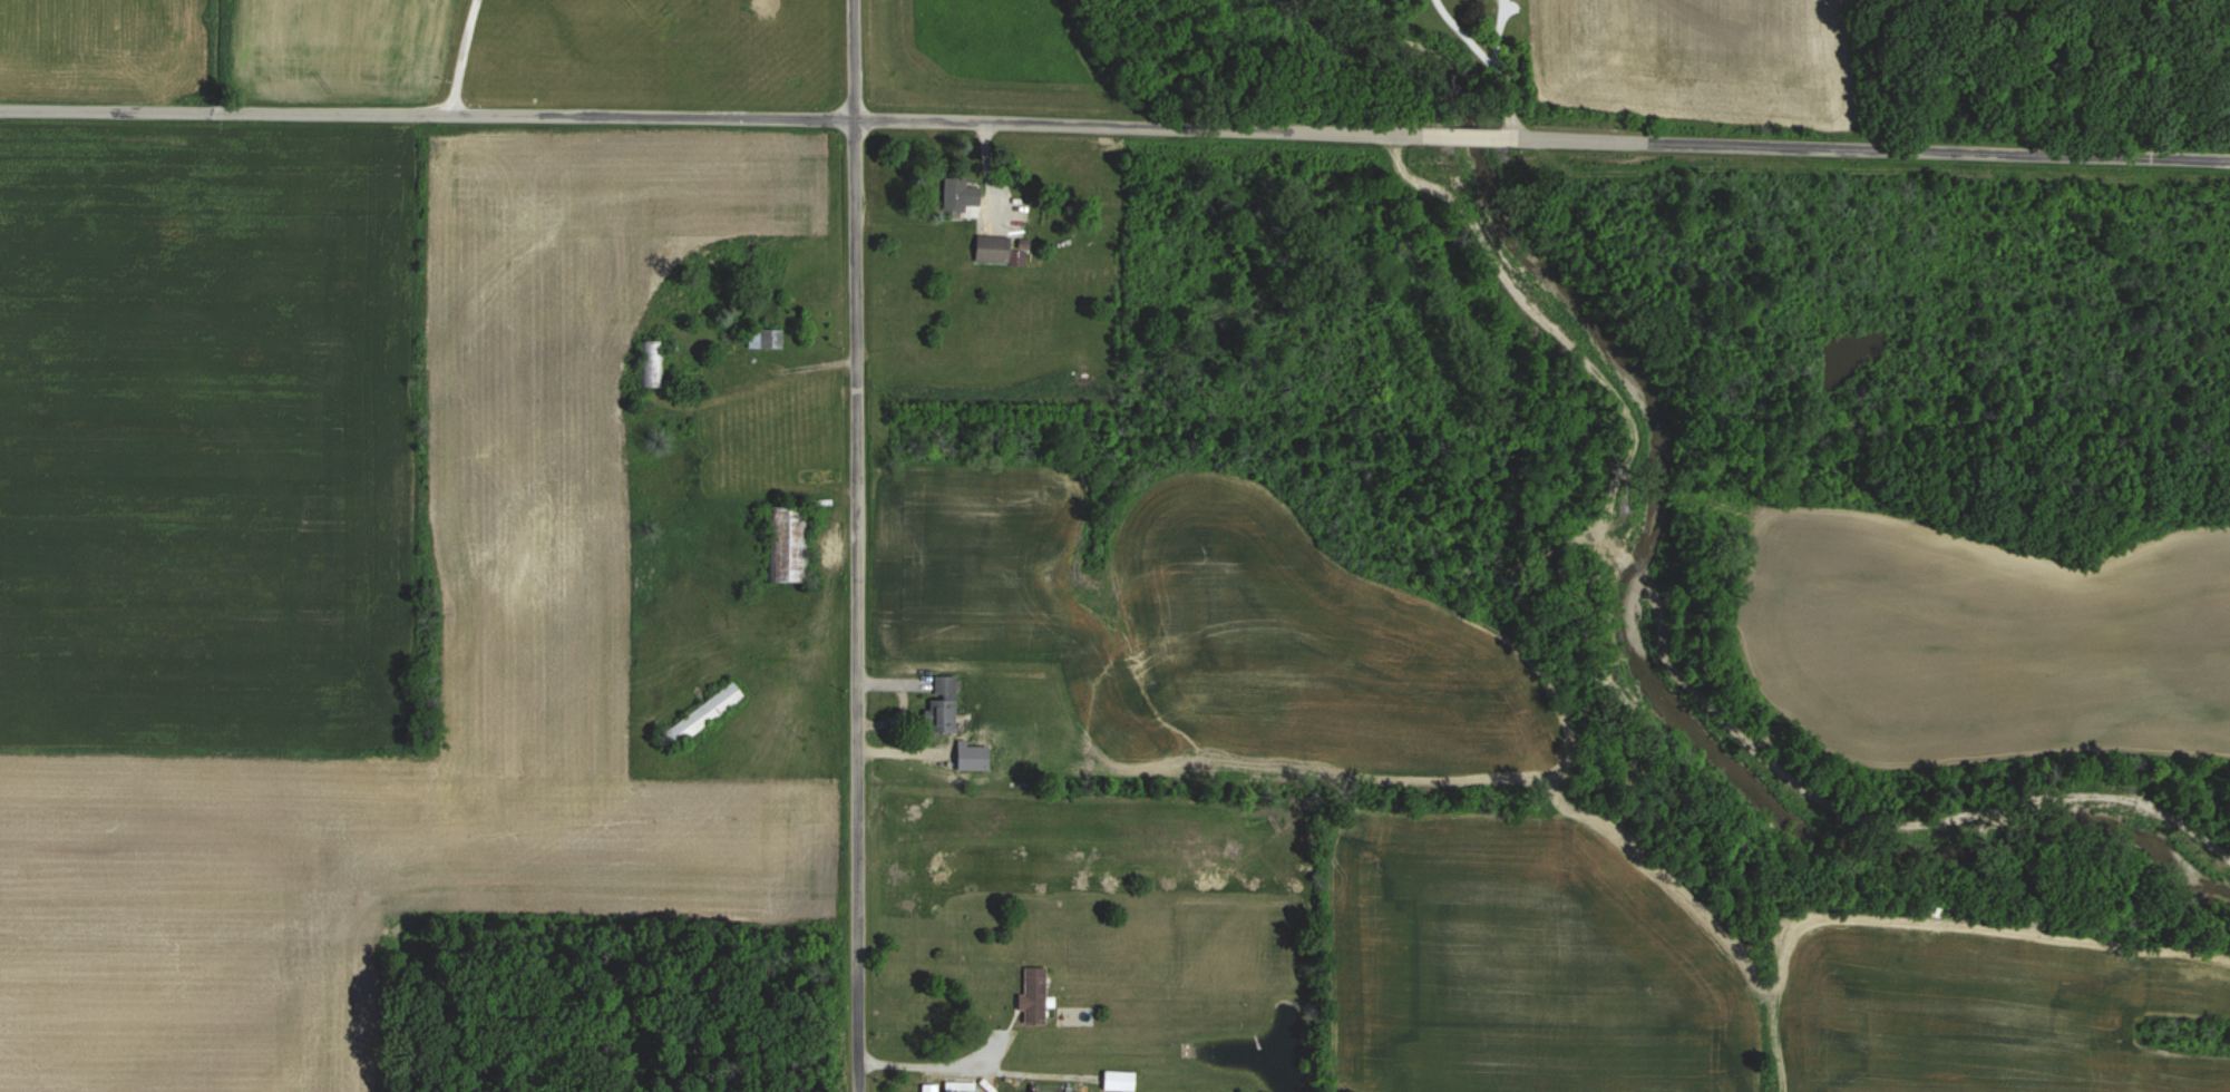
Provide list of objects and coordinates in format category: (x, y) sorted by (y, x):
road: (452, 56)
road: (1492, 60)
road: (1114, 128)
building: (955, 194)
building: (997, 250)
building: (765, 338)
building: (653, 363)
road: (769, 384)
building: (788, 544)
road: (851, 545)
building: (944, 704)
building: (704, 714)
building: (1035, 994)
road: (937, 1064)
building: (1119, 1080)
building: (961, 1085)

